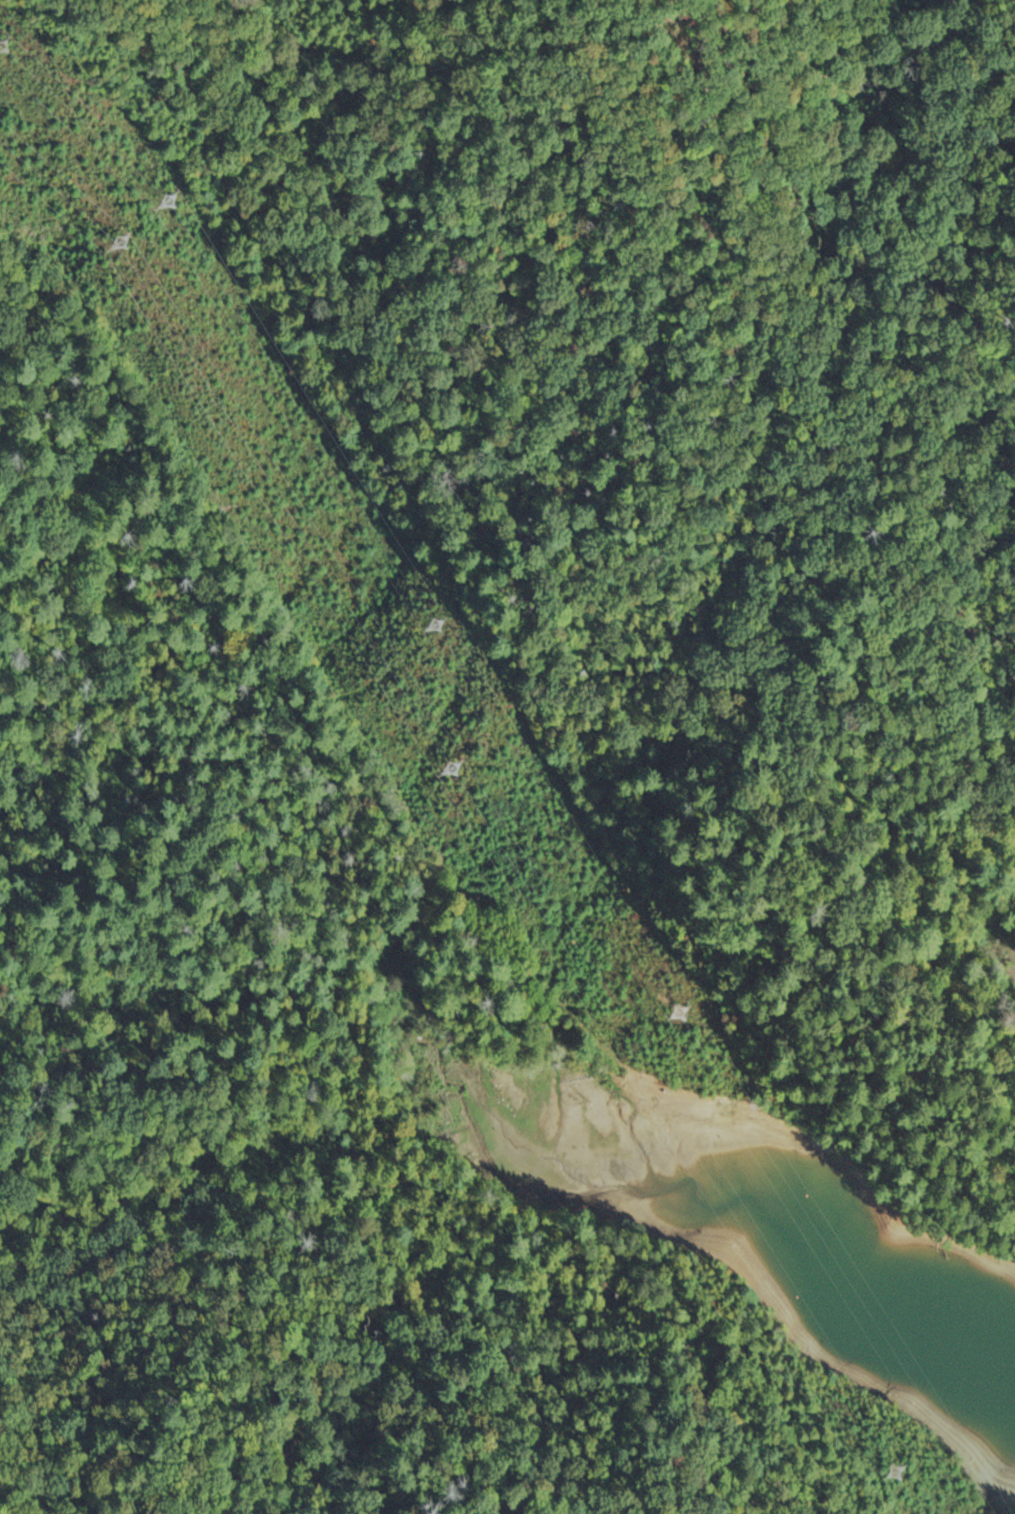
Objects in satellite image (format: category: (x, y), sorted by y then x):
power tower: (164, 201)
power tower: (116, 243)
power tower: (432, 626)
power tower: (445, 771)
power tower: (676, 1014)
power tower: (889, 1472)

